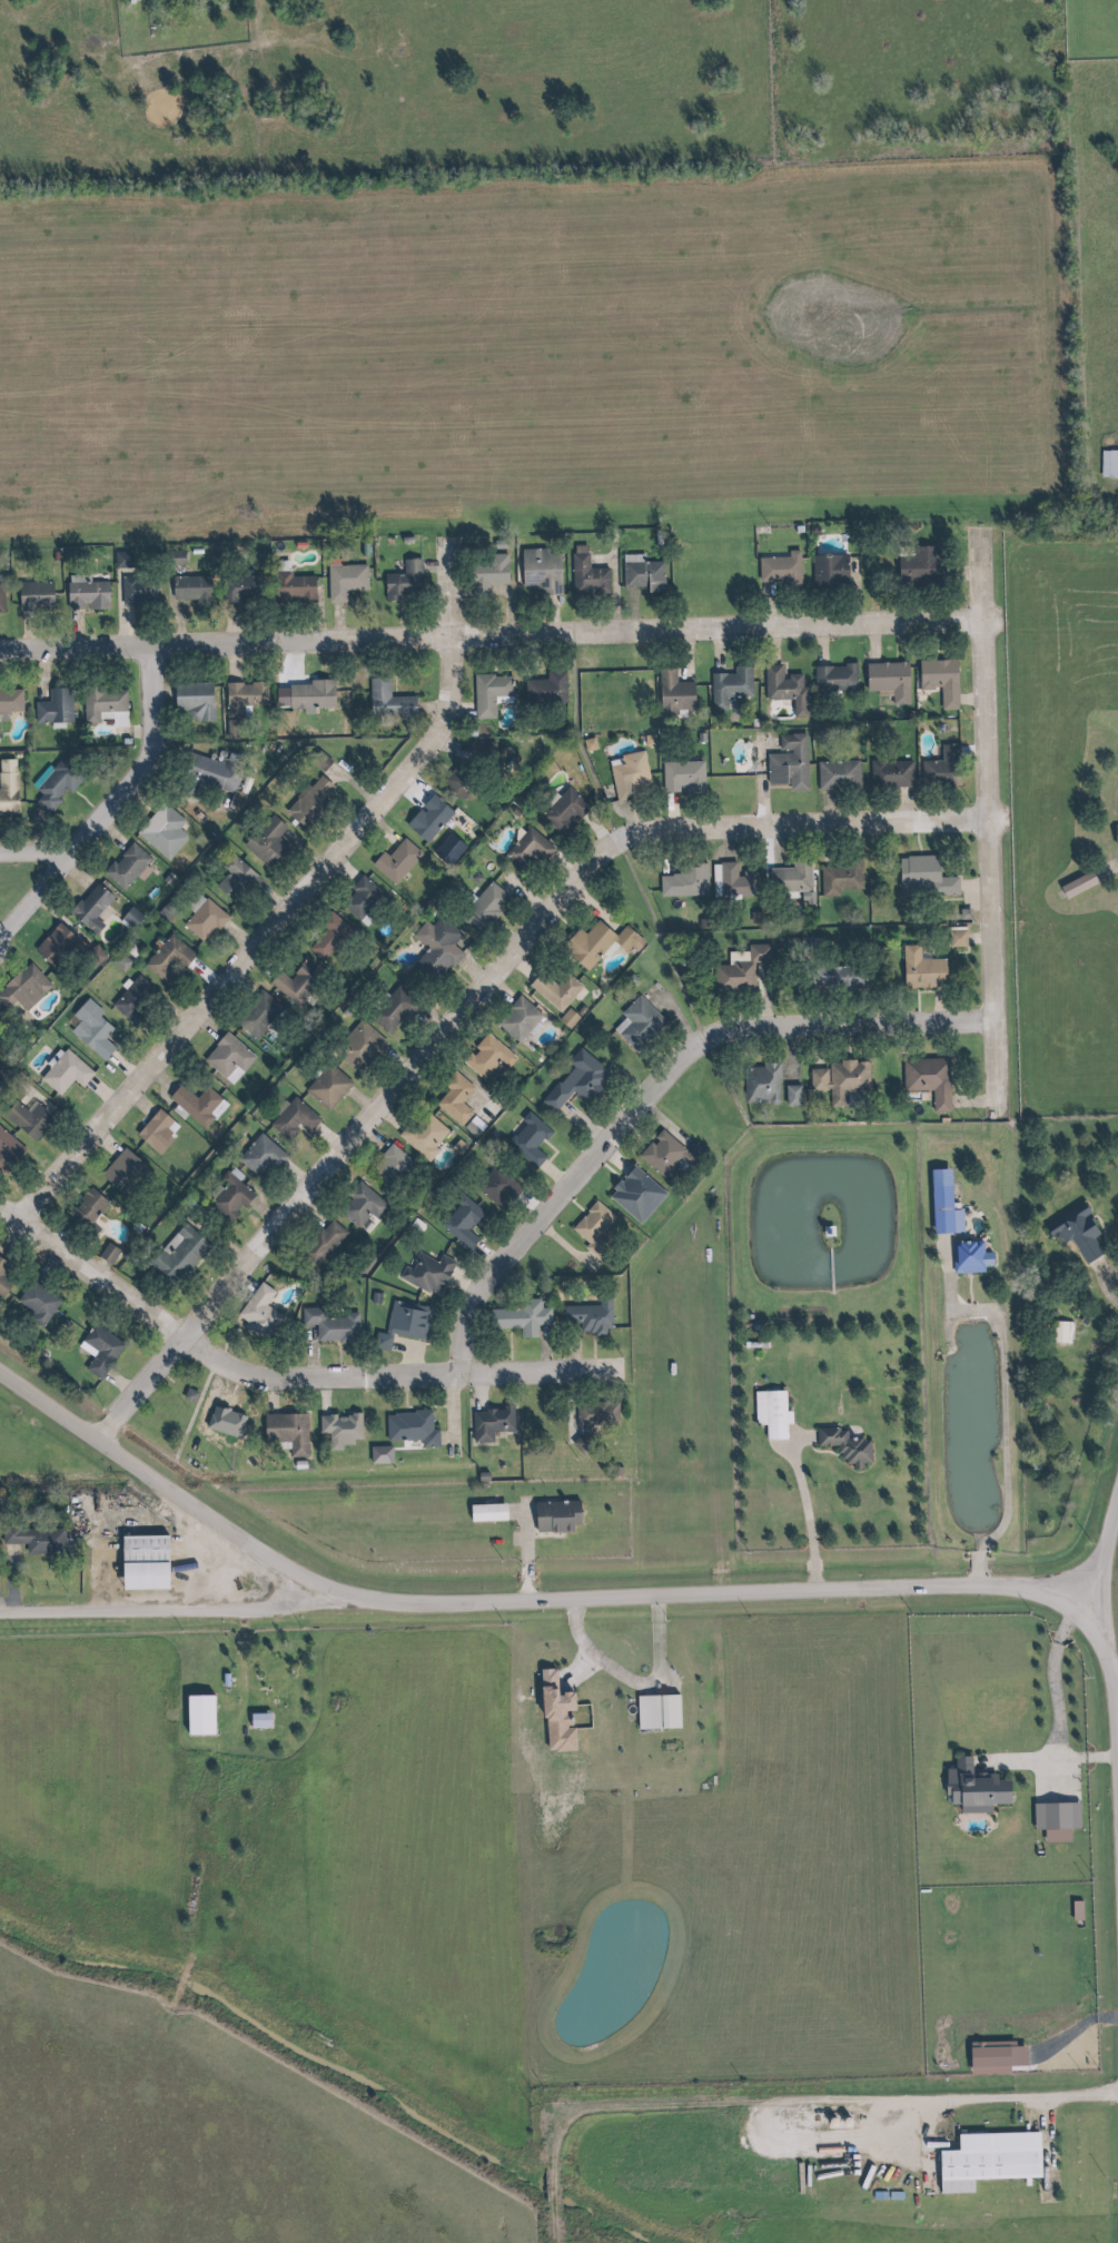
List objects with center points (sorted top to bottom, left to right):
road: (286, 61)
building: (1106, 464)
building: (117, 559)
road: (431, 567)
building: (780, 567)
building: (918, 567)
building: (824, 569)
building: (481, 571)
building: (536, 572)
building: (637, 572)
building: (583, 574)
building: (338, 580)
building: (400, 582)
road: (445, 586)
road: (606, 586)
building: (240, 587)
building: (190, 589)
building: (288, 589)
building: (133, 590)
road: (494, 591)
building: (30, 593)
building: (81, 596)
road: (764, 603)
road: (115, 607)
road: (172, 622)
road: (333, 622)
road: (225, 623)
road: (486, 636)
road: (766, 644)
road: (815, 644)
road: (865, 644)
road: (712, 650)
road: (677, 655)
building: (831, 675)
road: (37, 676)
building: (936, 680)
building: (886, 681)
building: (724, 686)
building: (541, 688)
building: (781, 689)
building: (306, 694)
building: (485, 694)
building: (239, 695)
building: (671, 695)
building: (383, 699)
road: (964, 700)
building: (8, 701)
building: (97, 701)
building: (190, 702)
road: (456, 705)
building: (49, 707)
road: (427, 707)
building: (110, 718)
road: (130, 732)
building: (779, 760)
building: (462, 768)
building: (936, 768)
building: (886, 772)
building: (207, 773)
building: (832, 773)
building: (623, 775)
building: (677, 777)
road: (754, 777)
building: (51, 781)
building: (6, 788)
road: (176, 791)
building: (306, 800)
road: (900, 804)
road: (822, 807)
road: (106, 809)
road: (666, 809)
building: (558, 810)
building: (424, 816)
road: (624, 816)
road: (979, 822)
road: (591, 830)
building: (158, 831)
road: (108, 836)
building: (1110, 837)
road: (912, 840)
building: (263, 842)
road: (720, 843)
road: (818, 846)
building: (525, 847)
road: (771, 847)
road: (37, 851)
building: (393, 861)
road: (558, 862)
building: (123, 866)
road: (1104, 868)
road: (336, 871)
building: (921, 875)
building: (839, 876)
building: (232, 877)
road: (72, 879)
building: (680, 880)
building: (732, 880)
park: (24, 883)
building: (1074, 883)
building: (789, 885)
road: (968, 886)
road: (520, 892)
road: (267, 898)
building: (358, 901)
building: (92, 906)
building: (477, 907)
road: (587, 908)
building: (199, 917)
road: (553, 919)
building: (329, 936)
road: (231, 937)
road: (973, 939)
road: (255, 940)
building: (953, 940)
building: (588, 942)
building: (53, 945)
building: (436, 947)
road: (947, 952)
building: (164, 960)
road: (255, 967)
building: (918, 968)
building: (736, 970)
road: (199, 975)
building: (832, 975)
building: (291, 982)
building: (20, 985)
building: (551, 989)
road: (922, 994)
road: (467, 996)
road: (761, 998)
building: (130, 999)
road: (934, 1002)
road: (910, 1004)
building: (388, 1005)
building: (254, 1014)
building: (514, 1017)
building: (635, 1022)
road: (202, 1027)
building: (88, 1030)
road: (842, 1040)
road: (811, 1046)
building: (356, 1047)
road: (752, 1047)
road: (782, 1053)
building: (485, 1055)
building: (225, 1057)
road: (828, 1059)
road: (119, 1068)
building: (60, 1073)
building: (923, 1078)
road: (156, 1079)
building: (835, 1079)
building: (572, 1080)
building: (756, 1084)
building: (323, 1086)
road: (652, 1087)
road: (96, 1094)
building: (789, 1095)
building: (451, 1097)
road: (967, 1100)
road: (133, 1104)
building: (192, 1104)
building: (289, 1118)
building: (22, 1119)
road: (660, 1125)
building: (147, 1128)
building: (418, 1133)
building: (526, 1140)
road: (48, 1147)
road: (98, 1147)
building: (8, 1152)
building: (666, 1156)
building: (256, 1158)
building: (388, 1165)
building: (121, 1173)
building: (494, 1185)
building: (226, 1197)
building: (357, 1204)
road: (568, 1204)
road: (307, 1211)
building: (77, 1212)
building: (946, 1213)
building: (455, 1219)
road: (294, 1225)
building: (594, 1231)
building: (1078, 1233)
road: (10, 1237)
road: (215, 1241)
building: (316, 1244)
road: (561, 1247)
building: (174, 1254)
building: (103, 1255)
building: (970, 1258)
building: (1, 1266)
road: (44, 1268)
road: (825, 1268)
building: (423, 1272)
road: (1095, 1273)
road: (241, 1279)
building: (2, 1283)
road: (963, 1293)
building: (369, 1297)
building: (33, 1300)
building: (255, 1315)
building: (585, 1315)
road: (115, 1317)
building: (518, 1317)
building: (404, 1320)
fountain: (232, 1323)
building: (325, 1325)
building: (1065, 1333)
road: (219, 1342)
road: (538, 1350)
building: (95, 1351)
road: (503, 1351)
road: (586, 1352)
road: (279, 1381)
road: (112, 1384)
building: (185, 1394)
road: (265, 1396)
road: (404, 1396)
road: (995, 1400)
road: (431, 1407)
road: (281, 1409)
road: (453, 1409)
building: (592, 1412)
building: (768, 1413)
building: (485, 1423)
building: (404, 1429)
building: (283, 1433)
building: (577, 1442)
road: (792, 1443)
building: (838, 1445)
road: (813, 1453)
building: (484, 1512)
road: (511, 1513)
road: (799, 1513)
building: (550, 1516)
building: (32, 1539)
road: (540, 1539)
road: (518, 1552)
road: (1099, 1557)
building: (142, 1560)
road: (593, 1598)
road: (165, 1608)
road: (1050, 1718)
building: (260, 1721)
building: (969, 1788)
road: (780, 2104)
building: (989, 2162)

